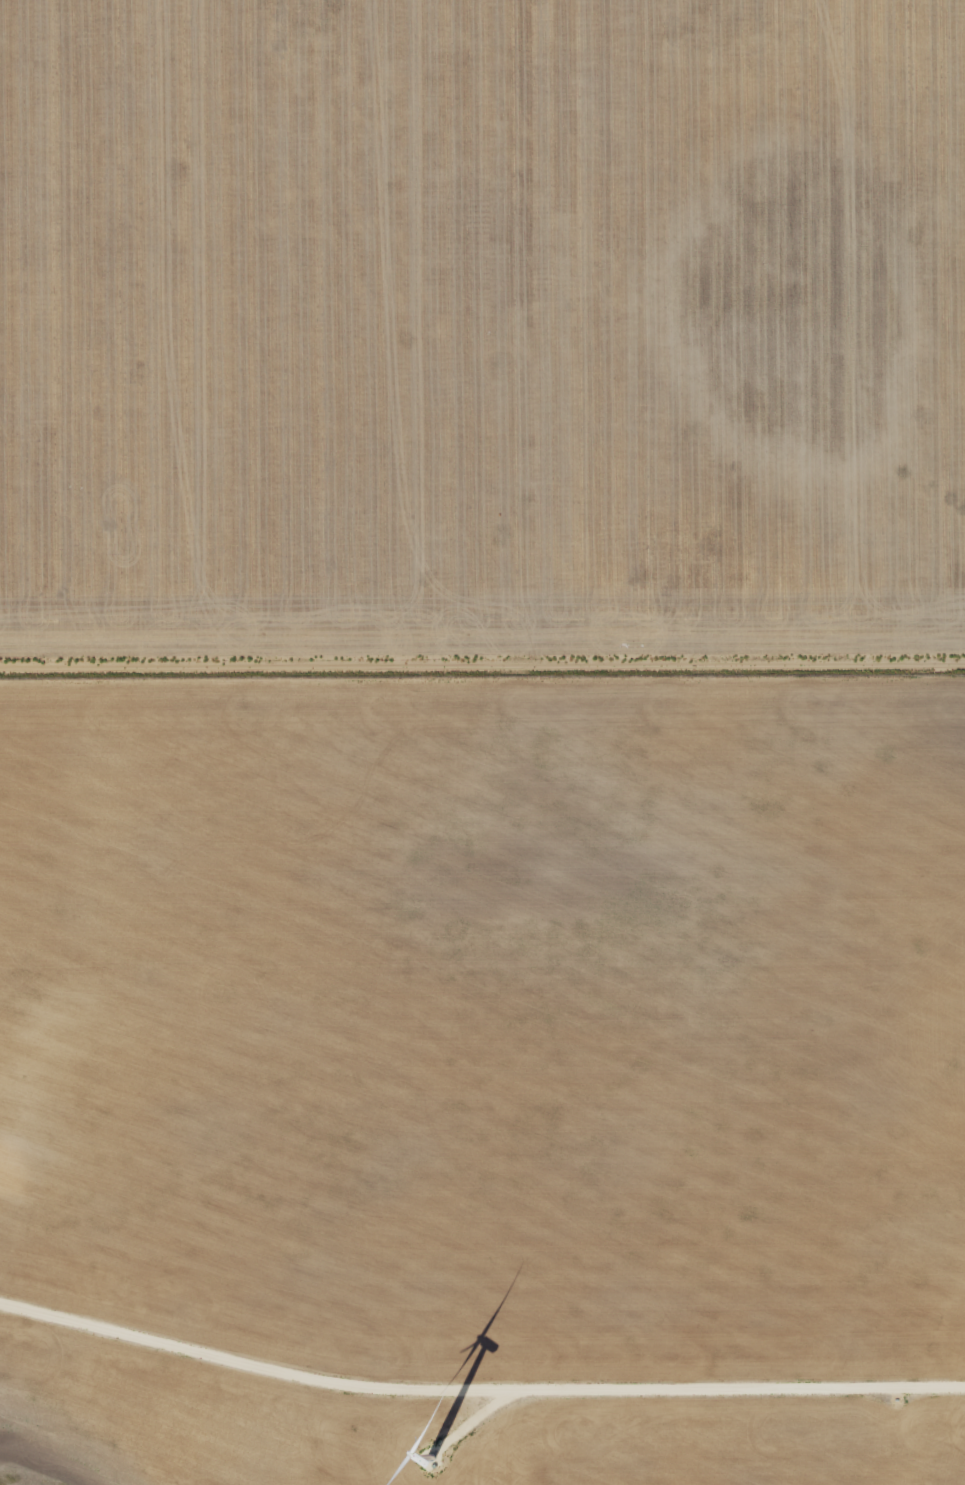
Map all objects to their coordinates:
road: (482, 666)
road: (477, 1390)
road: (475, 1418)
wind turbine: (429, 1466)

